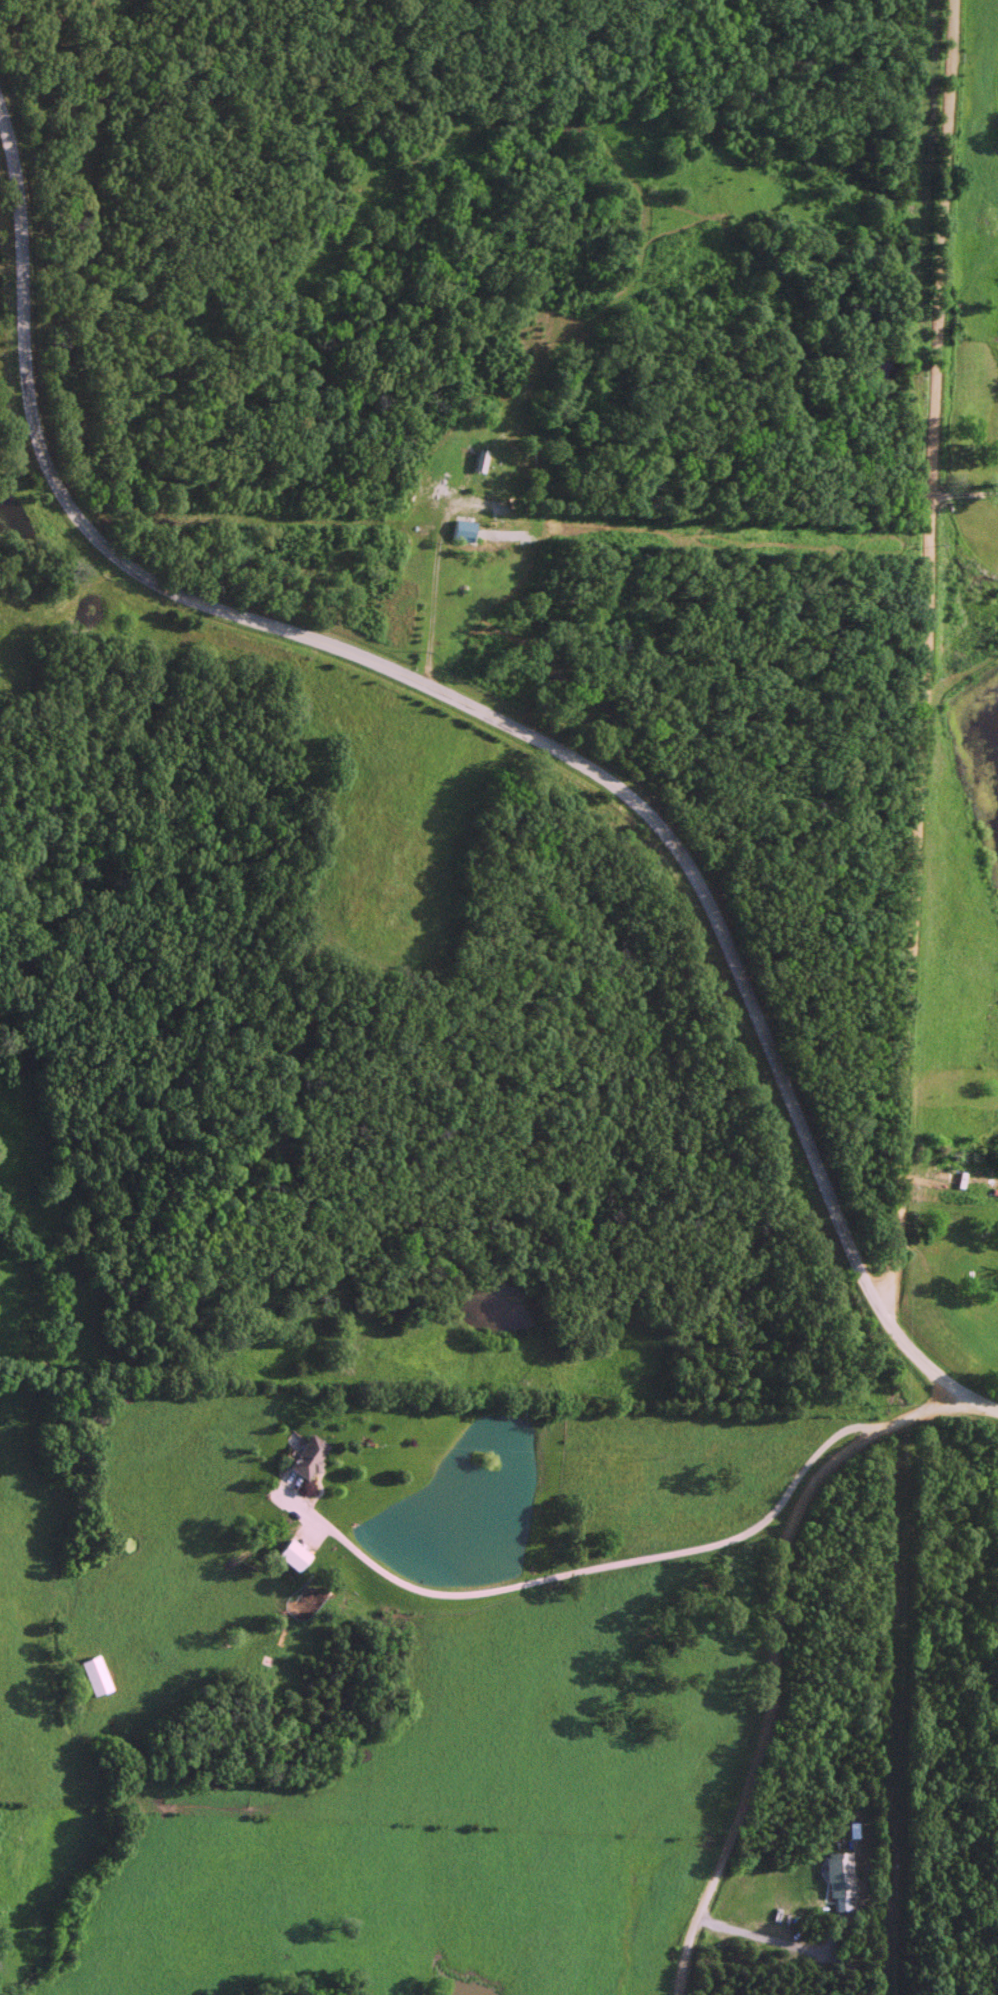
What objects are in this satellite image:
building: (457, 464)
road: (963, 493)
building: (463, 531)
road: (920, 656)
road: (498, 718)
building: (957, 1178)
building: (309, 1457)
building: (294, 1555)
road: (603, 1567)
road: (774, 1651)

